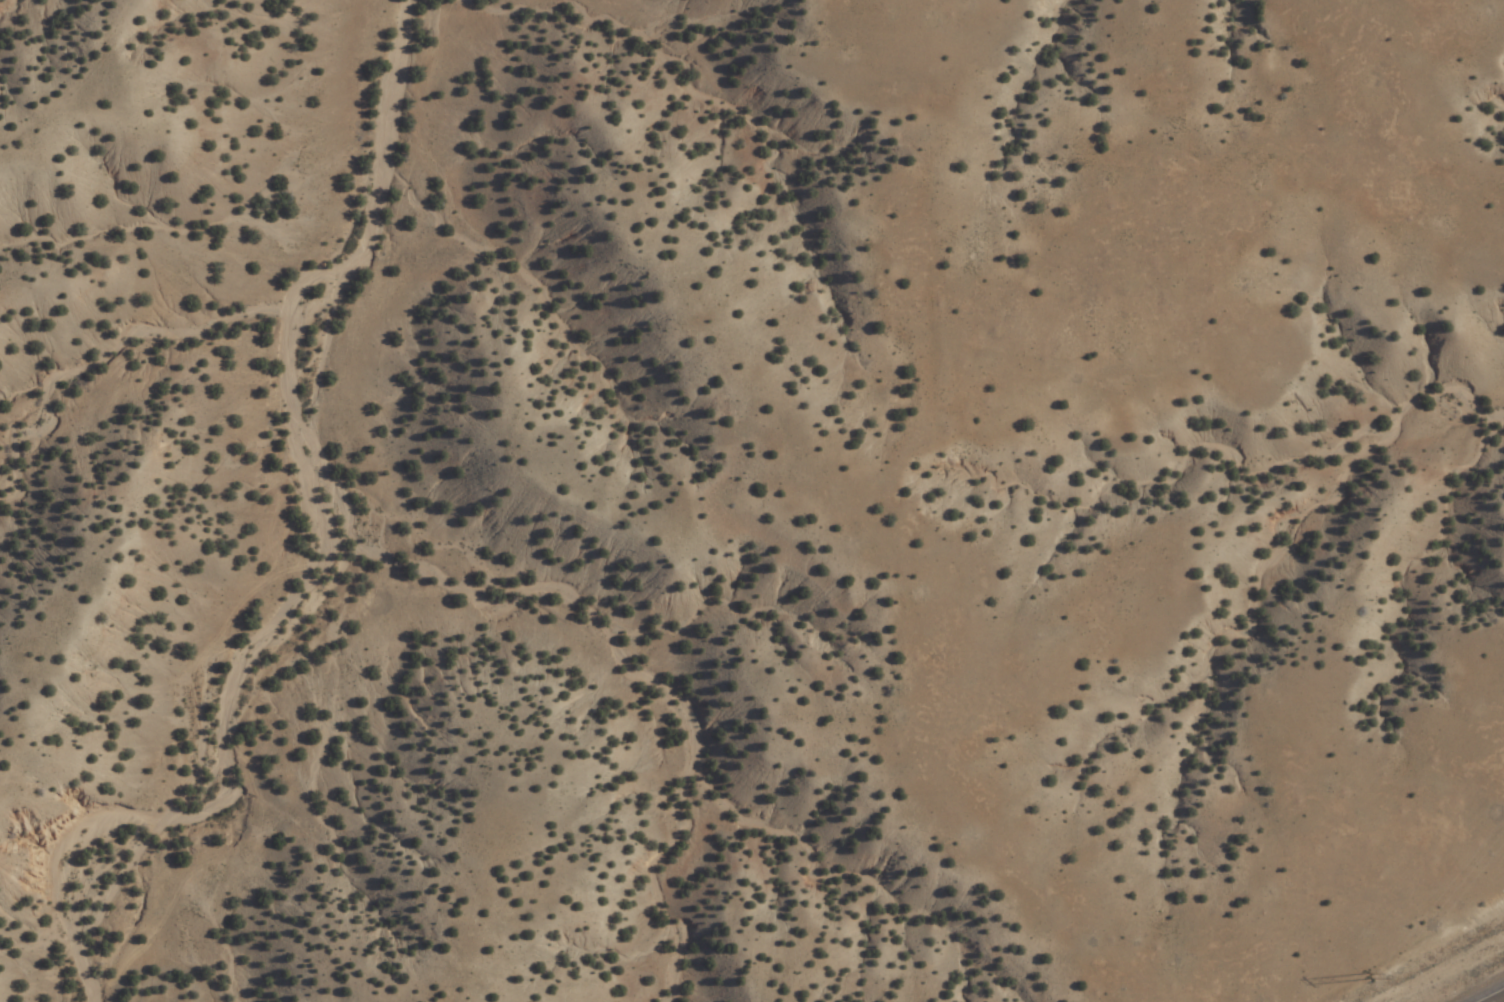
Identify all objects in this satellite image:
road: (1503, 1001)

